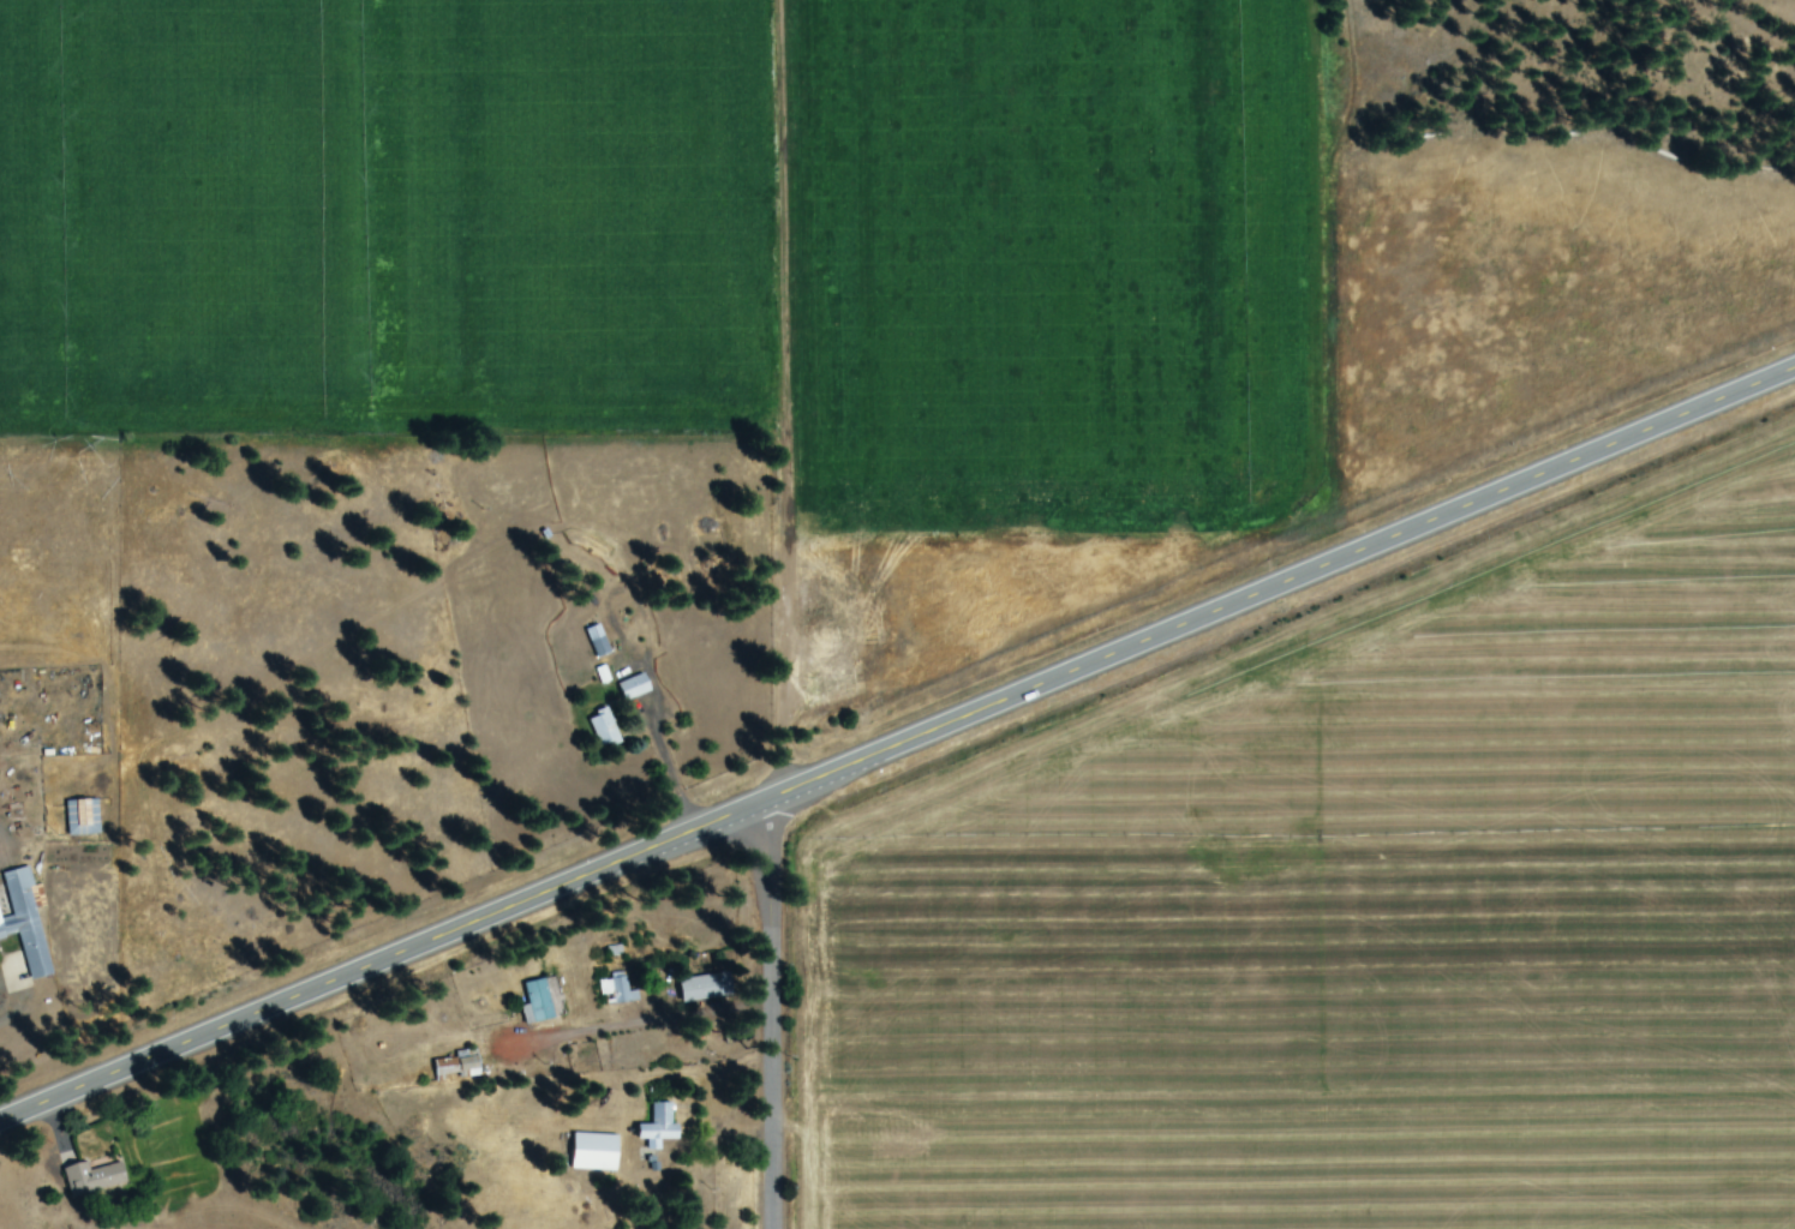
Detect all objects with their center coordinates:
building: (599, 641)
building: (635, 687)
building: (605, 729)
road: (896, 750)
building: (84, 817)
building: (28, 922)
building: (707, 989)
building: (620, 990)
building: (539, 1003)
road: (773, 1017)
building: (459, 1065)
building: (662, 1128)
building: (597, 1152)
building: (94, 1179)

